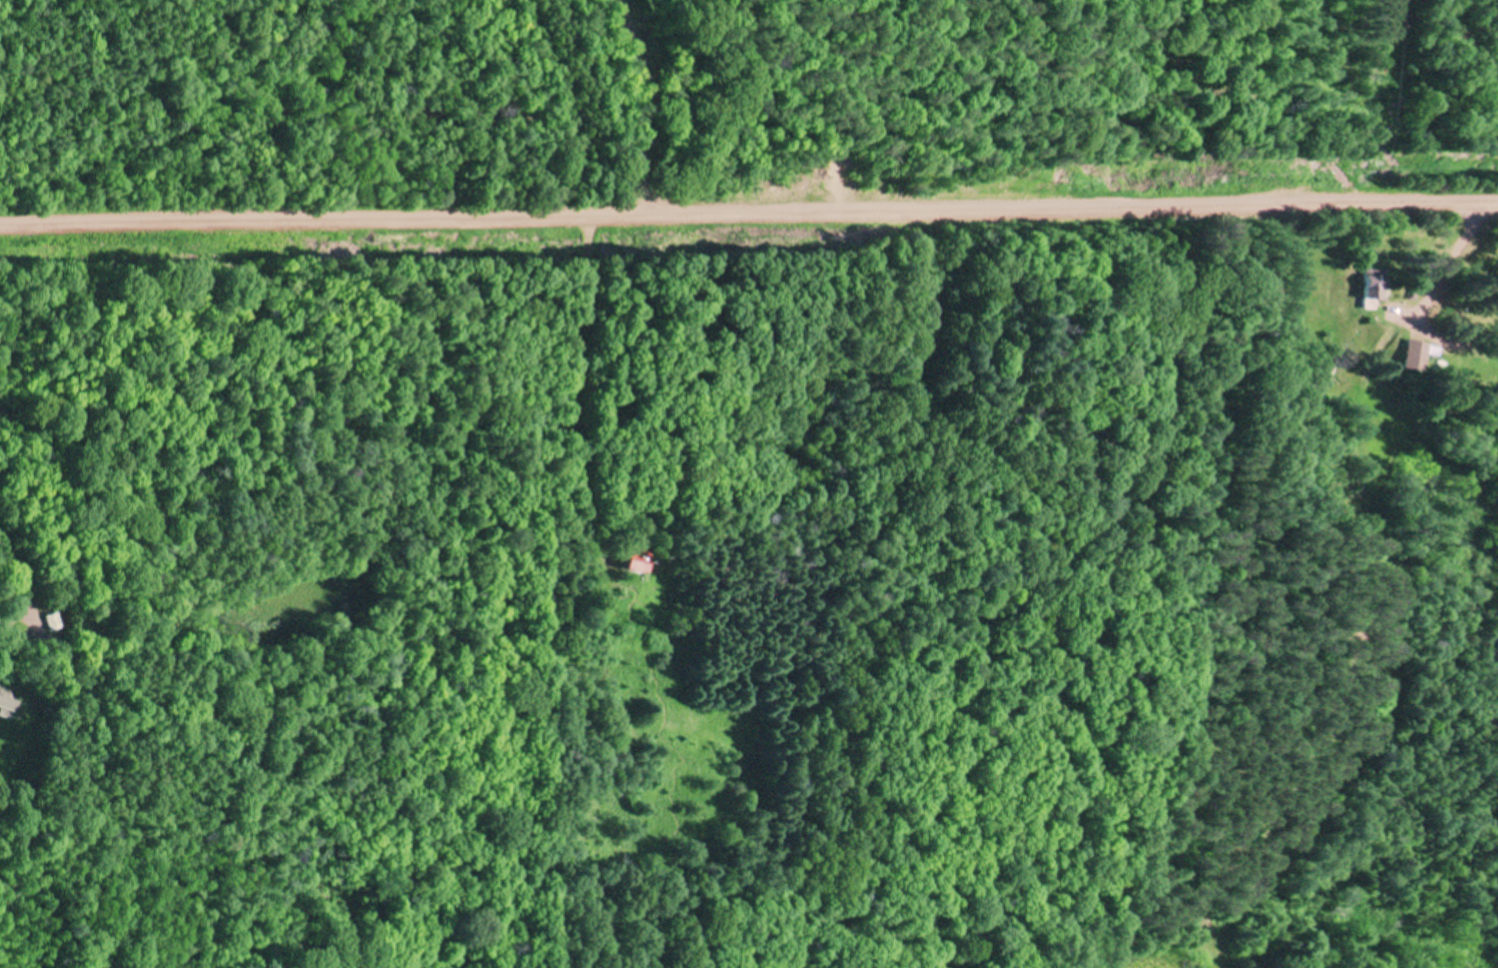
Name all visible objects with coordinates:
road: (749, 219)
building: (1370, 288)
building: (1412, 354)
building: (633, 557)
road: (17, 586)
building: (49, 620)
building: (4, 702)

